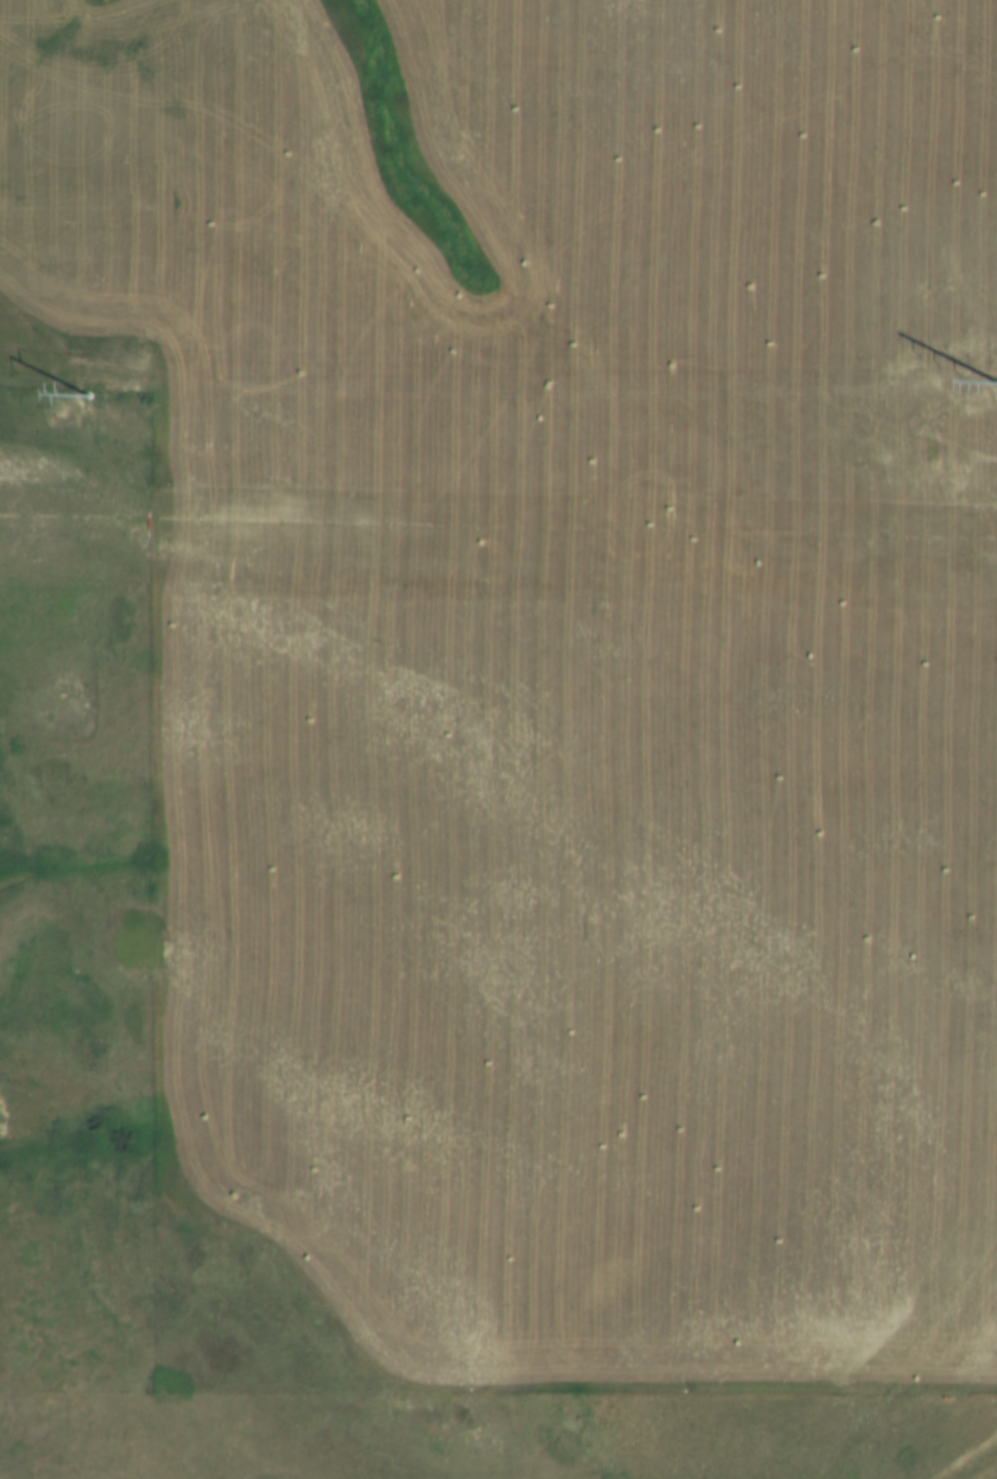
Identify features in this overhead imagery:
power tower: (996, 384)
power tower: (83, 397)
road: (991, 1475)

